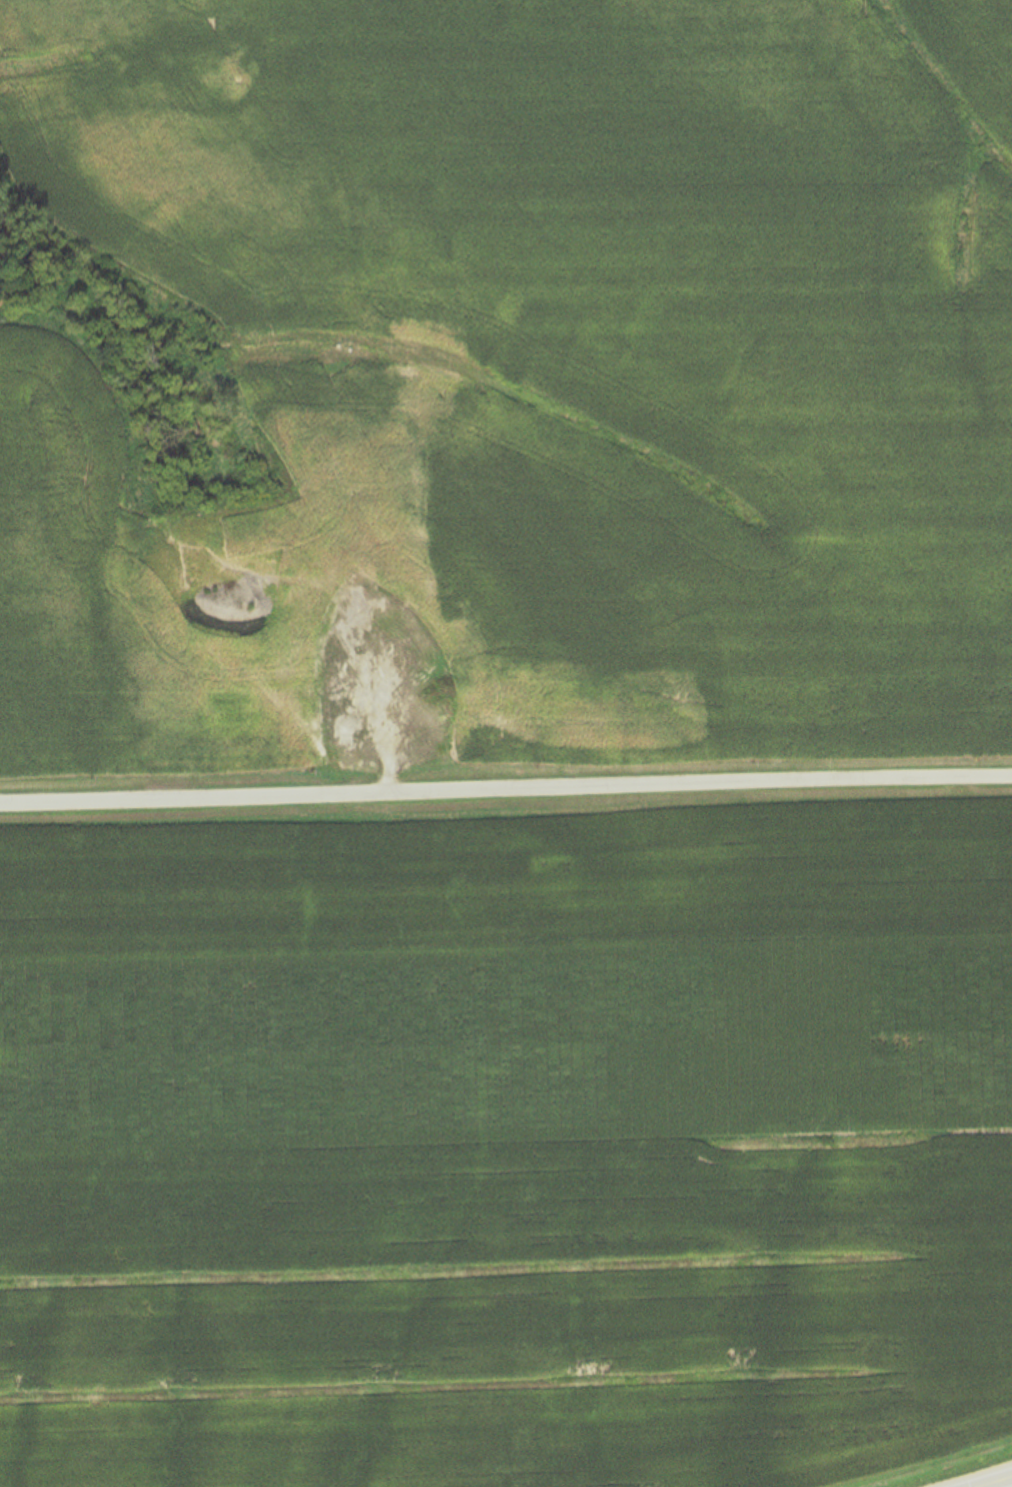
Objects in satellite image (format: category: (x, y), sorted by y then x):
road: (506, 789)
road: (991, 1481)

